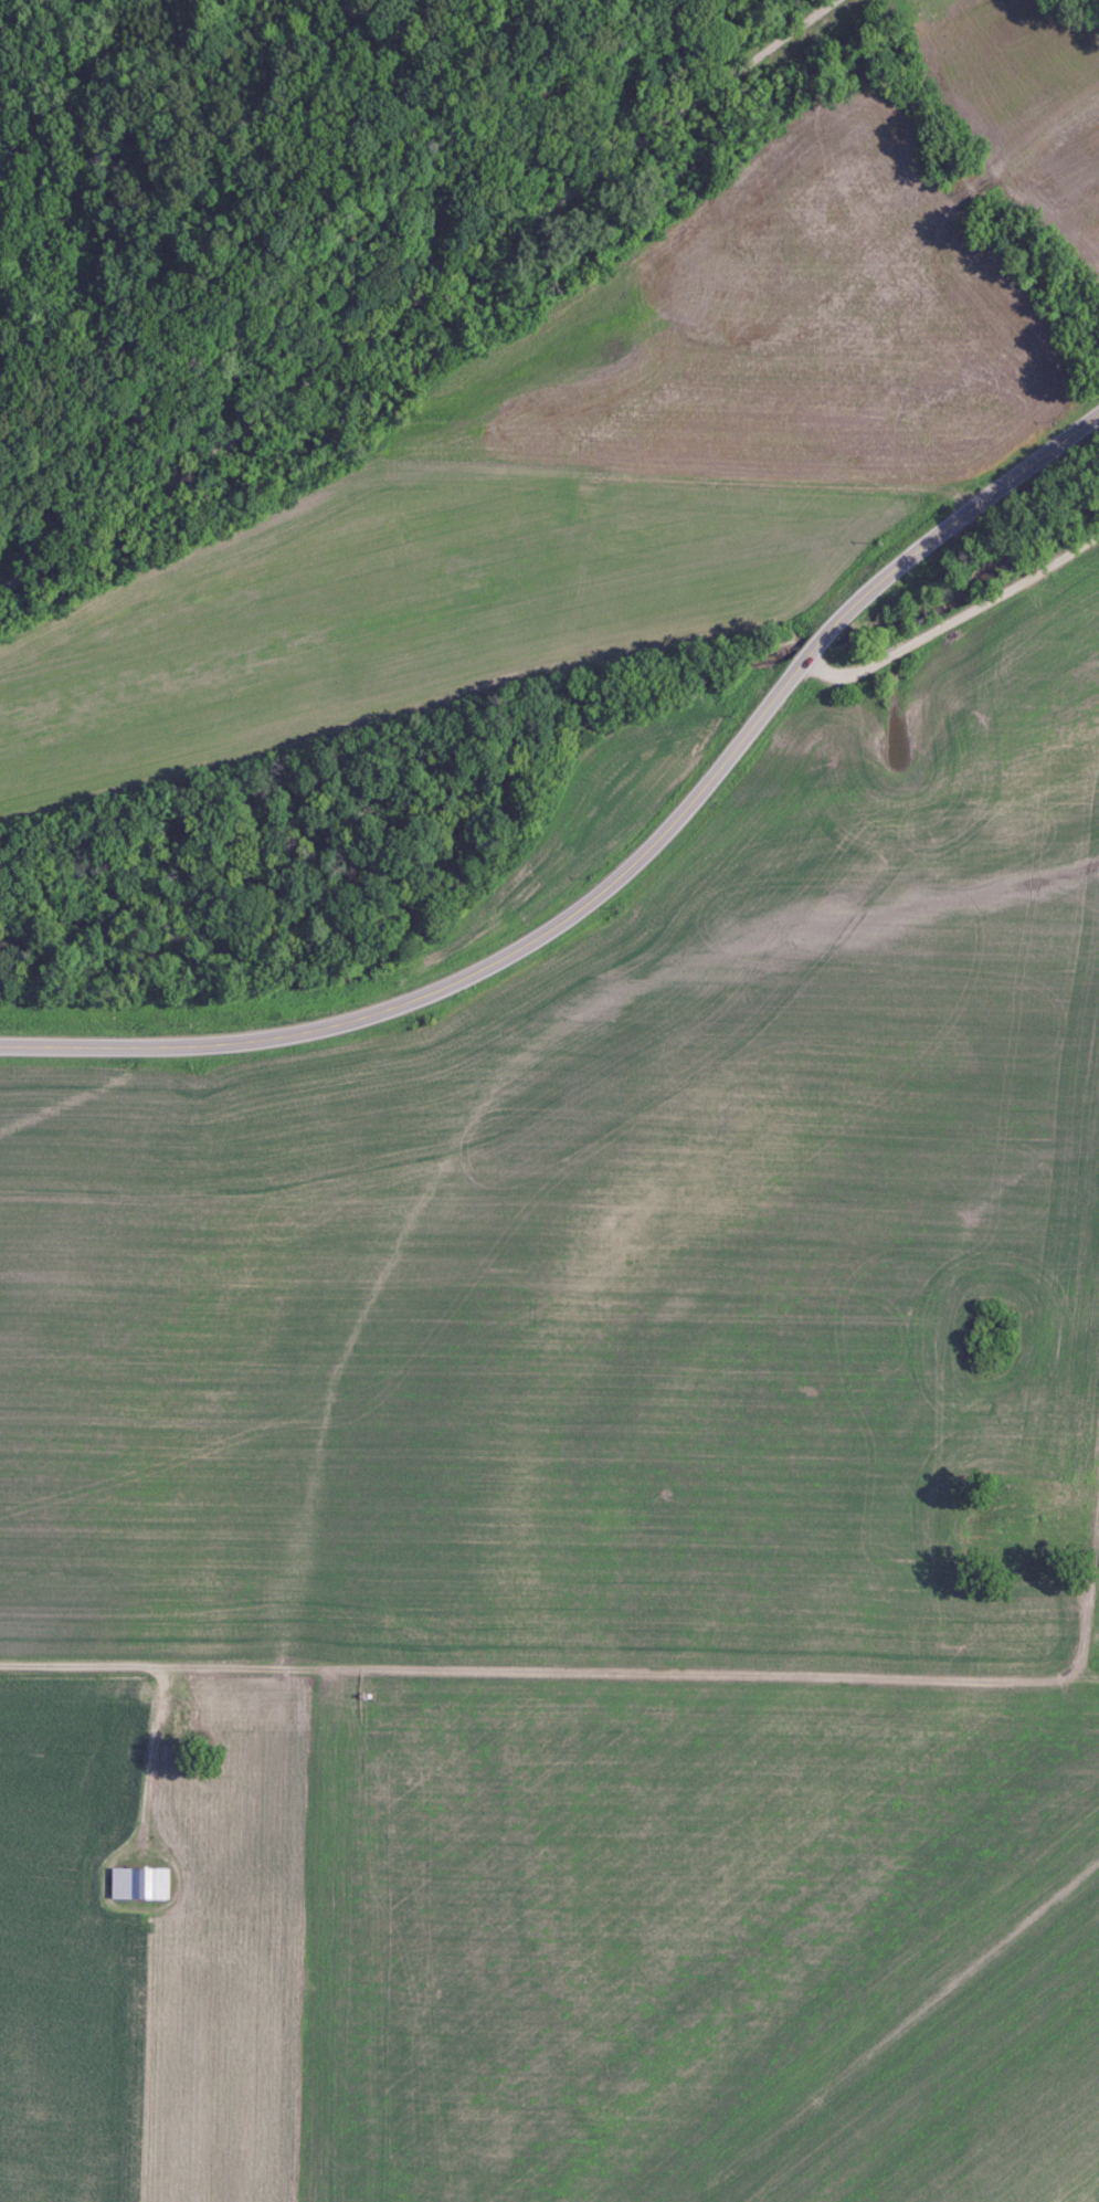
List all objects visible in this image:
road: (952, 170)
road: (423, 302)
road: (1039, 456)
road: (952, 625)
road: (567, 921)
road: (1095, 1633)
road: (546, 1677)
road: (1095, 1683)
building: (182, 1719)
road: (148, 1766)
building: (137, 1884)

